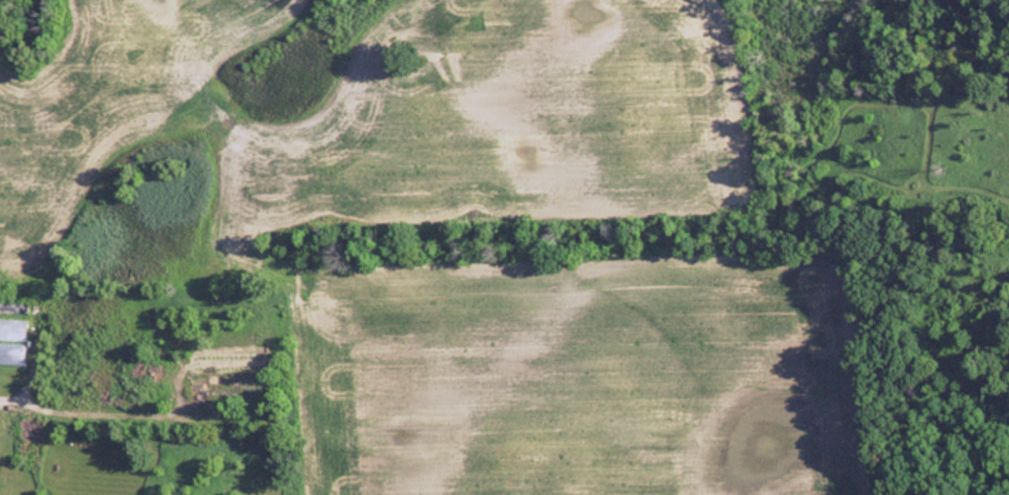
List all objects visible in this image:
building: (13, 308)
building: (12, 329)
building: (12, 353)
building: (221, 362)
building: (221, 380)
road: (15, 396)

